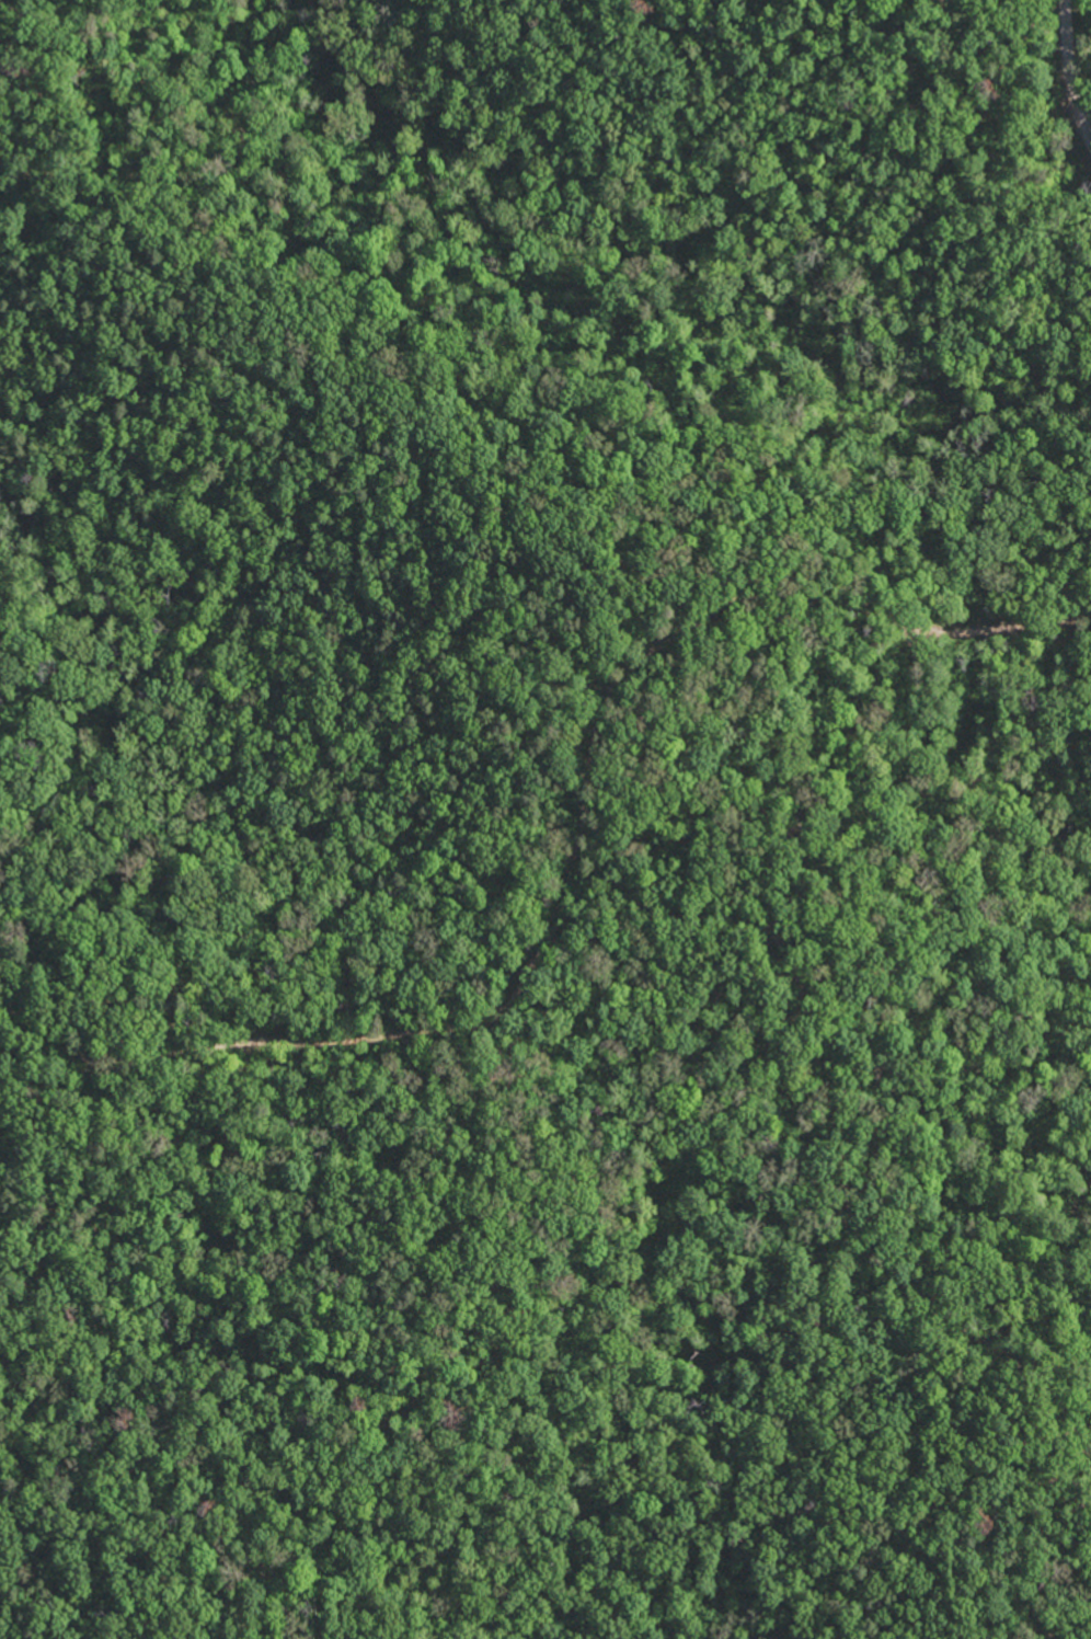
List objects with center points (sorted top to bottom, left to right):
road: (1068, 73)
road: (574, 861)

